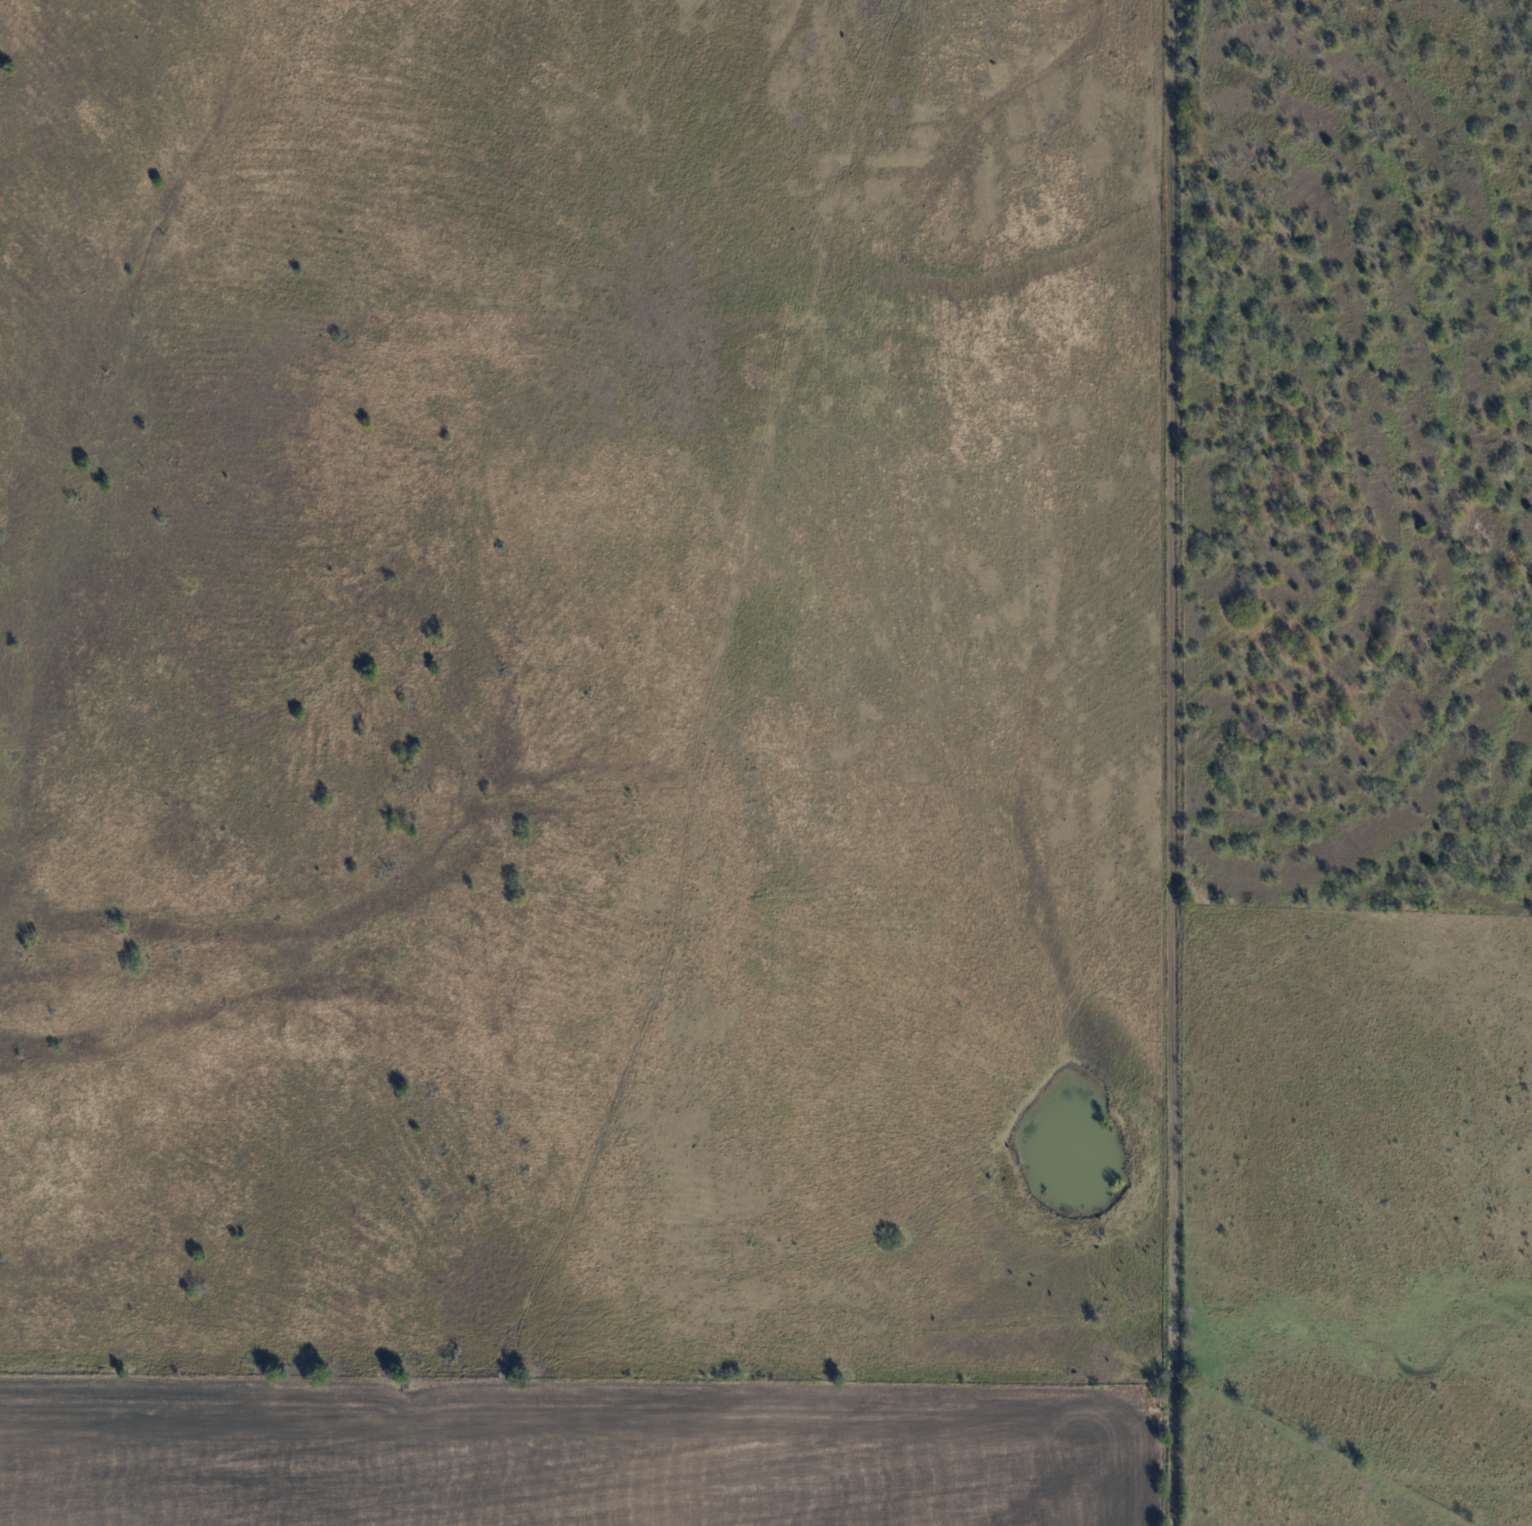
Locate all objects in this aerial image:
road: (1168, 763)

